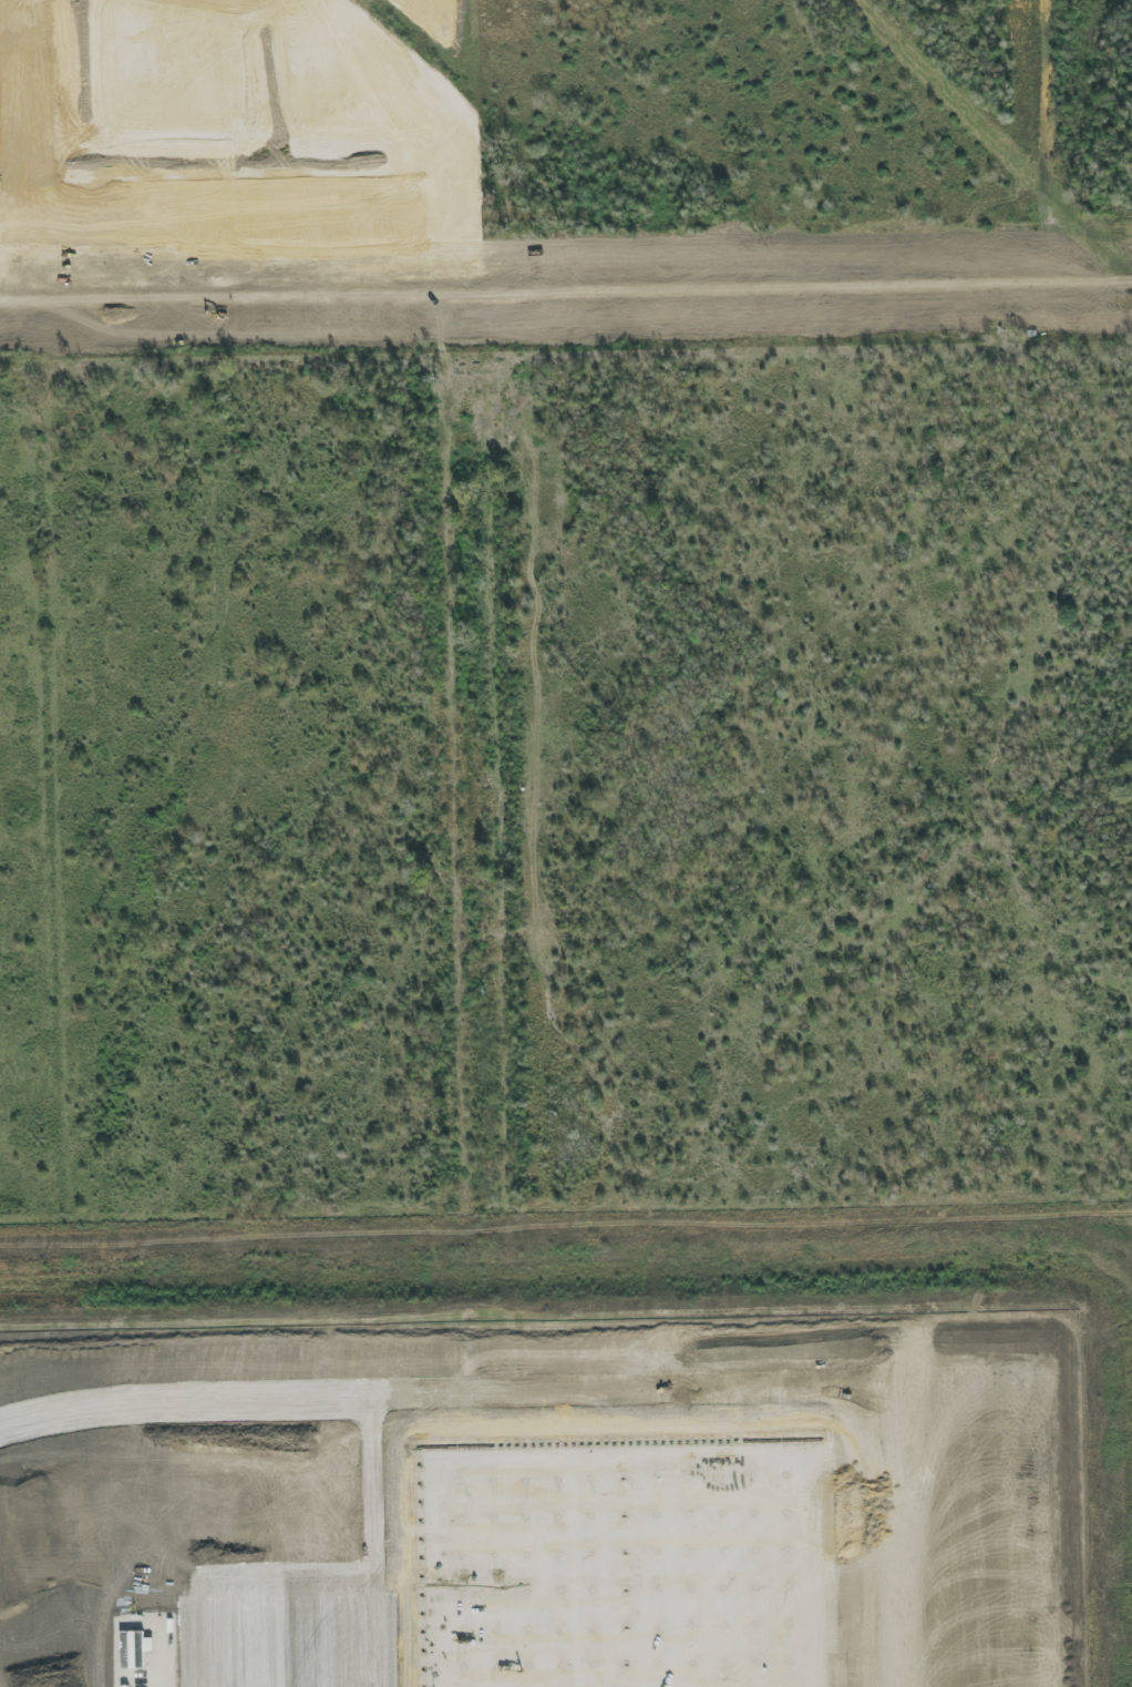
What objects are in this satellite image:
road: (268, 75)
road: (192, 154)
road: (454, 164)
road: (565, 289)
road: (706, 306)
road: (198, 316)
road: (565, 326)
road: (595, 1398)
road: (1013, 1483)
road: (370, 1485)
road: (276, 1572)
road: (373, 1628)
road: (244, 1629)
road: (284, 1629)
road: (328, 1629)
road: (197, 1643)

